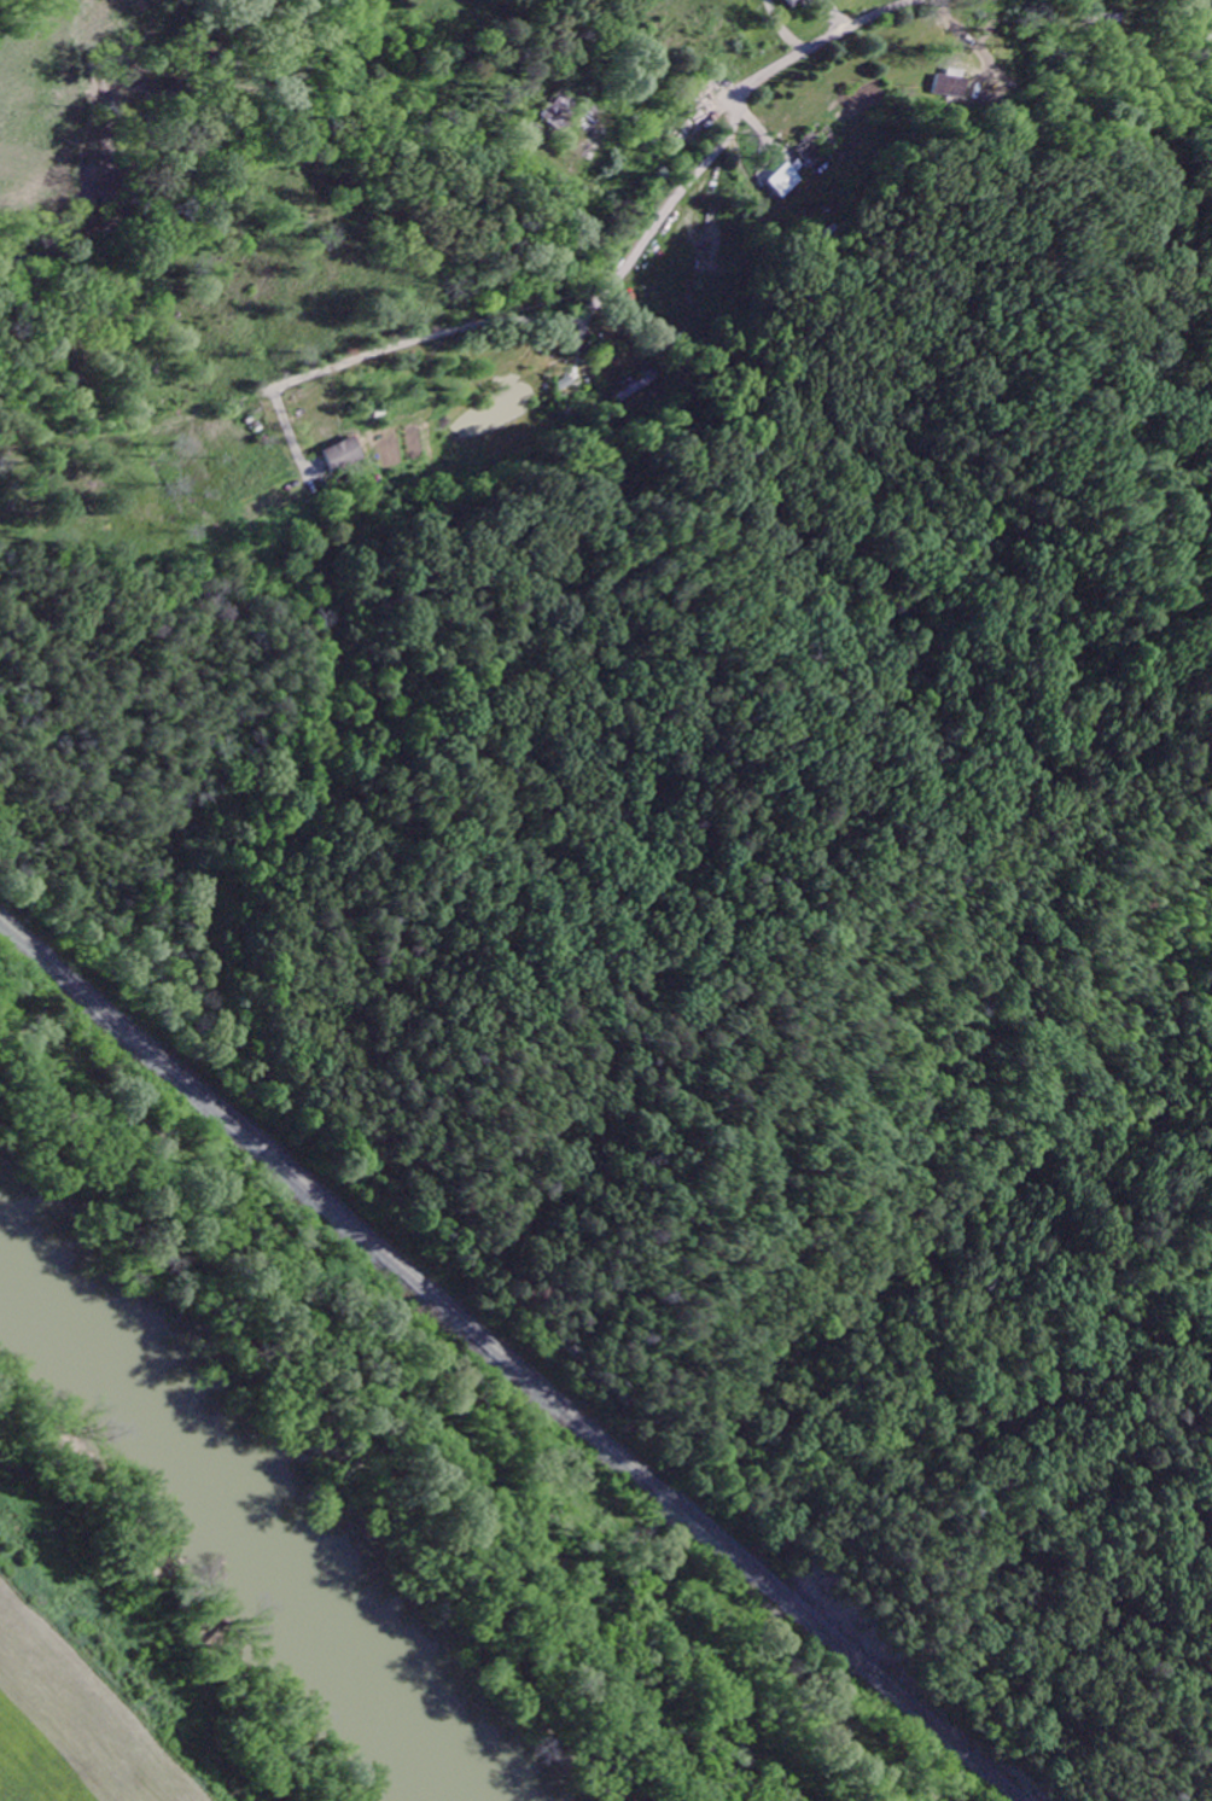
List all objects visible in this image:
building: (787, 2)
road: (826, 34)
building: (946, 88)
building: (779, 183)
road: (445, 442)
building: (337, 456)
road: (139, 864)
railway: (506, 1360)
river: (267, 1510)

